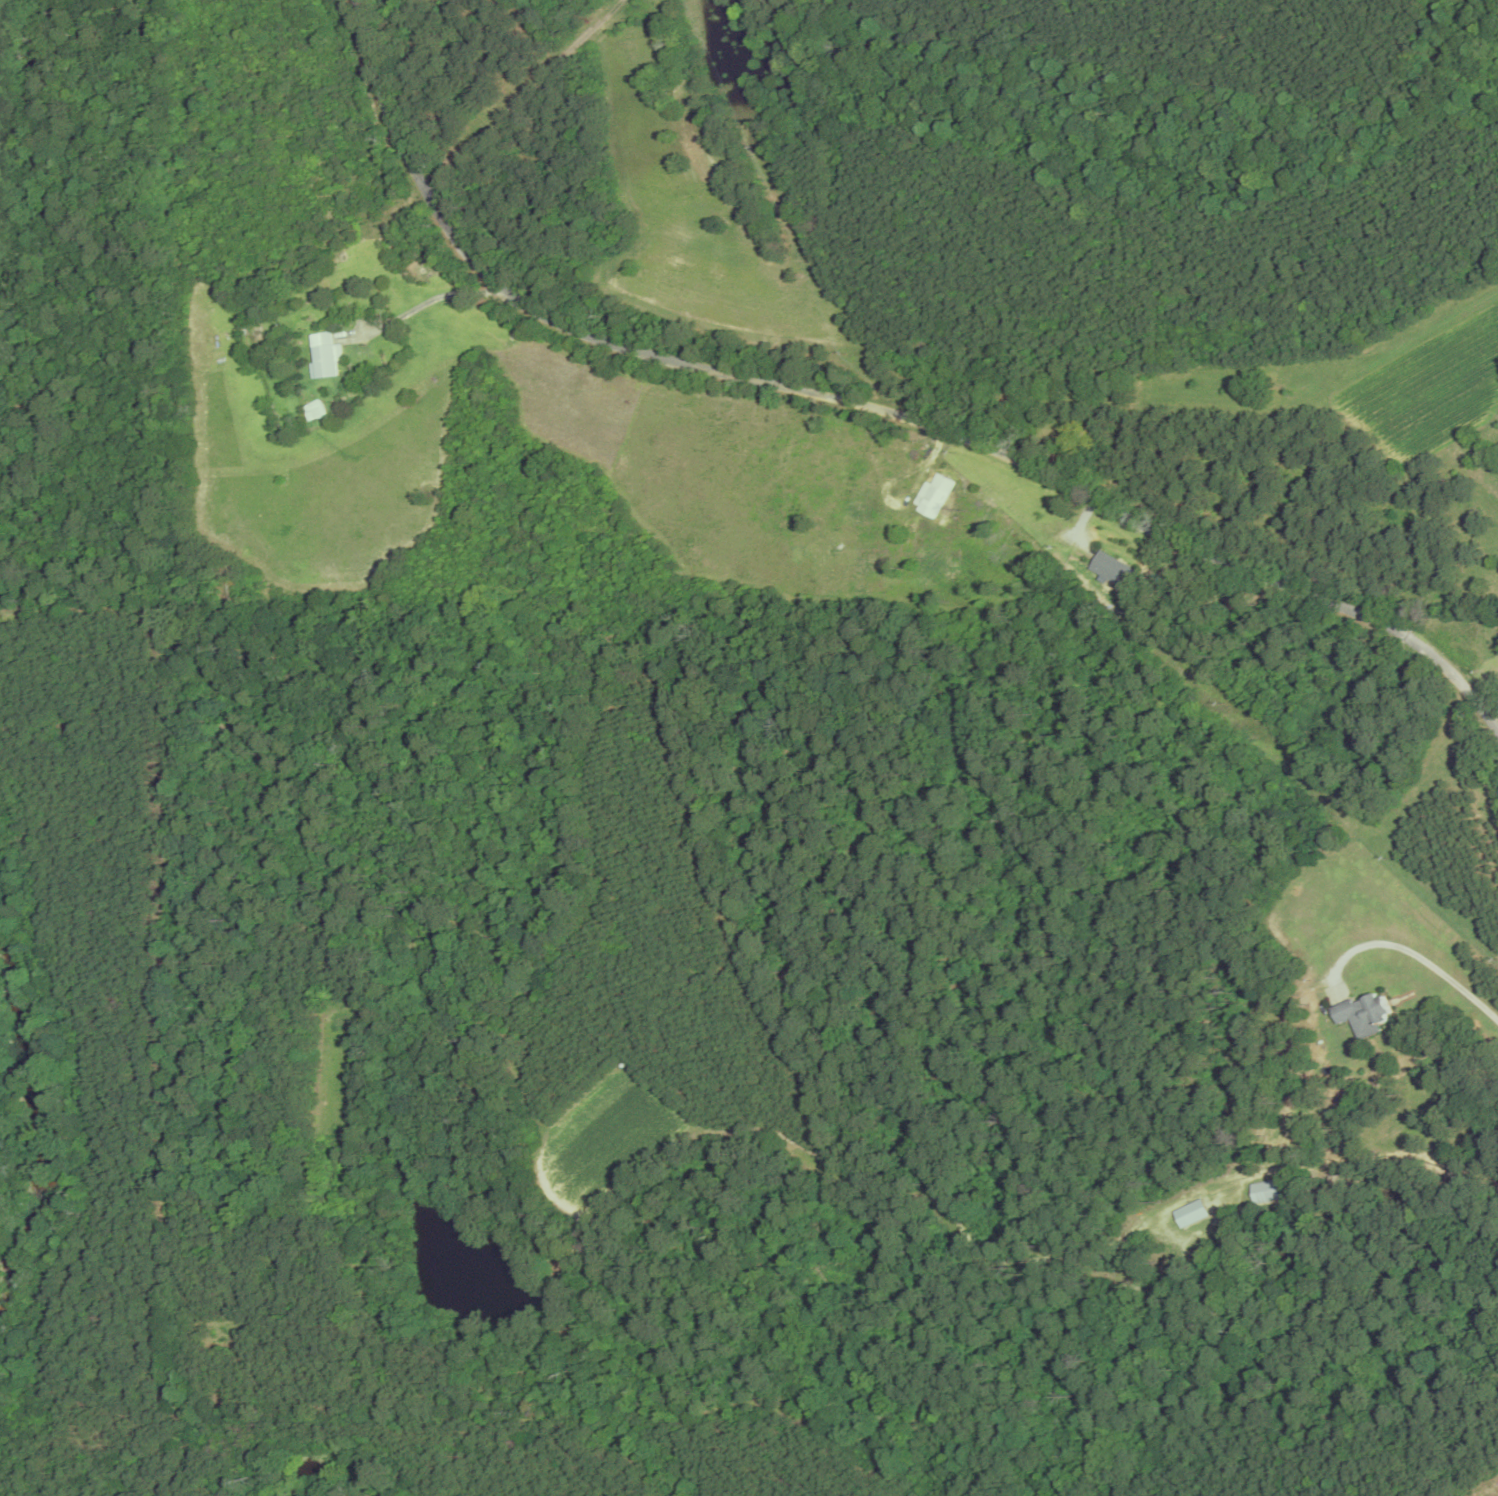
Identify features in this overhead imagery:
building: (321, 357)
road: (873, 425)
building: (1108, 570)
road: (1410, 954)
building: (1264, 1194)

